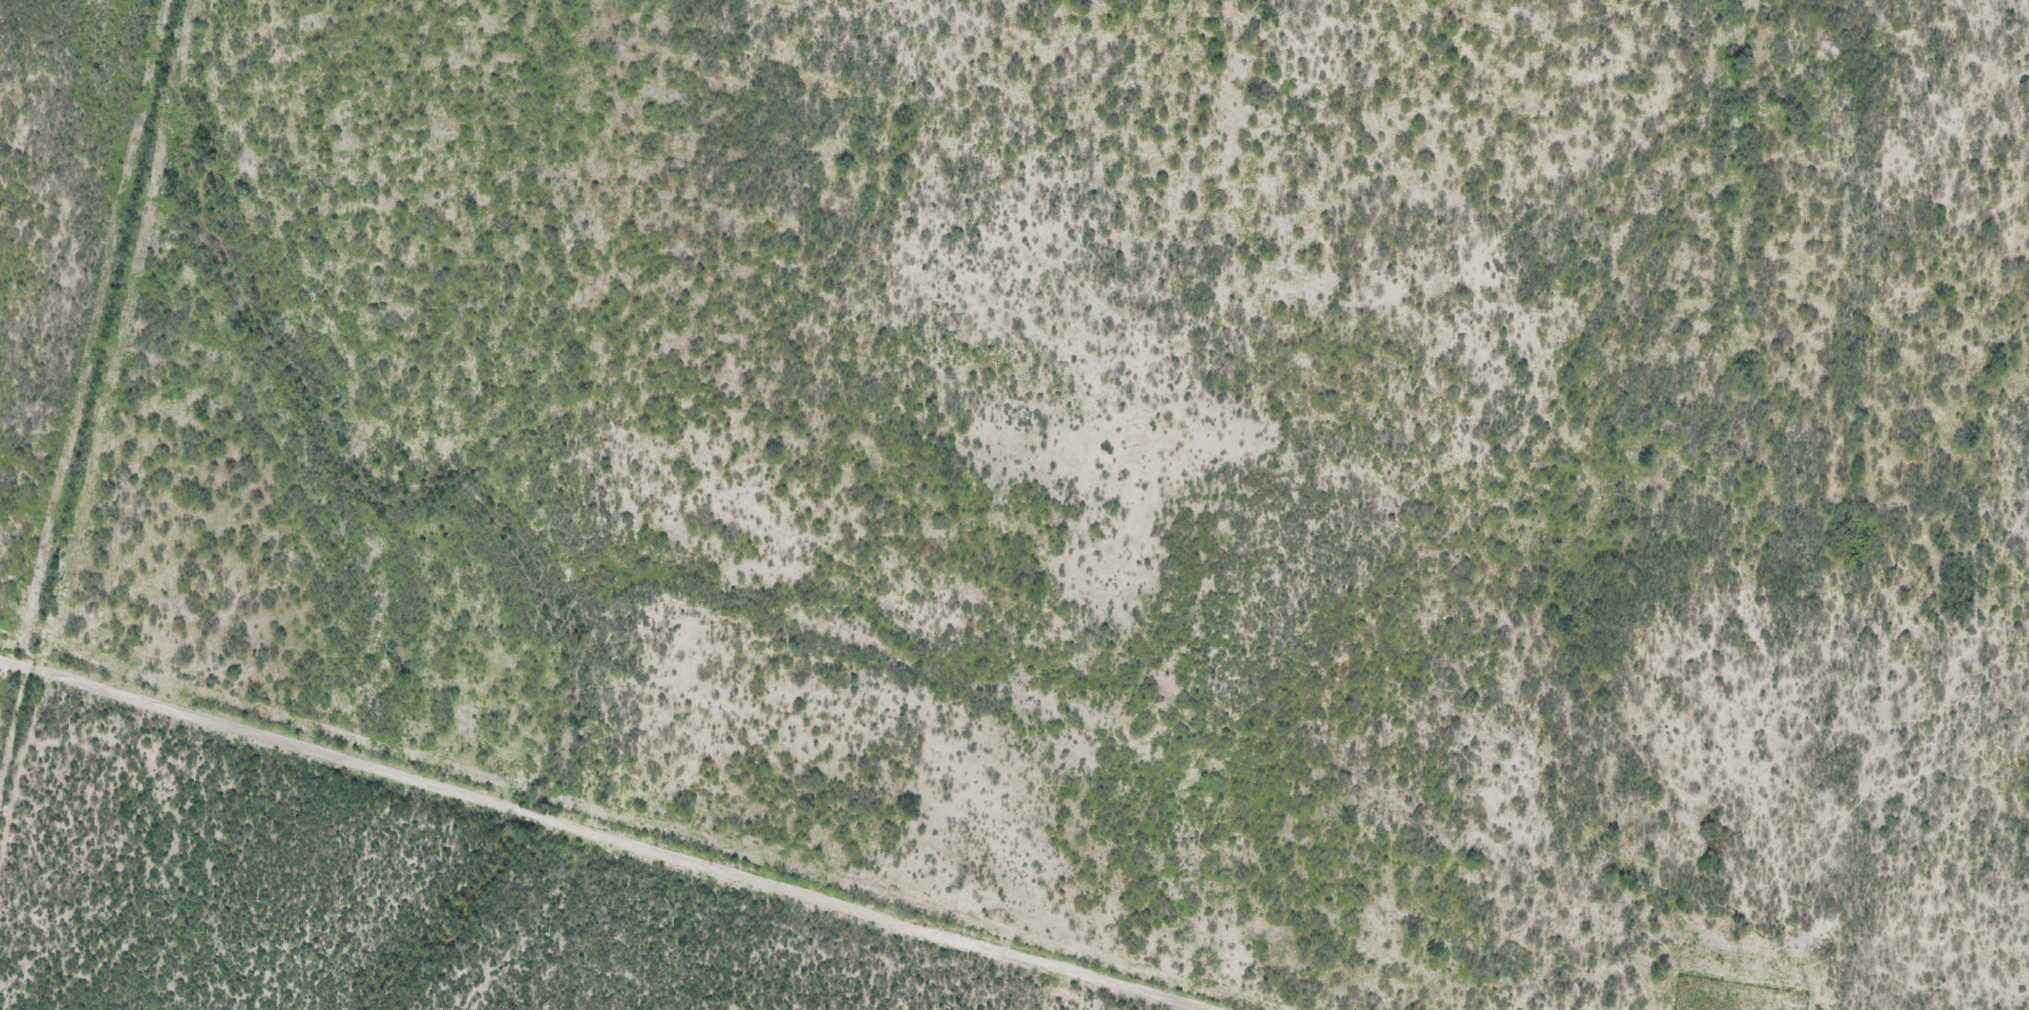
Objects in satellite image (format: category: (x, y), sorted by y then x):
road: (593, 835)

